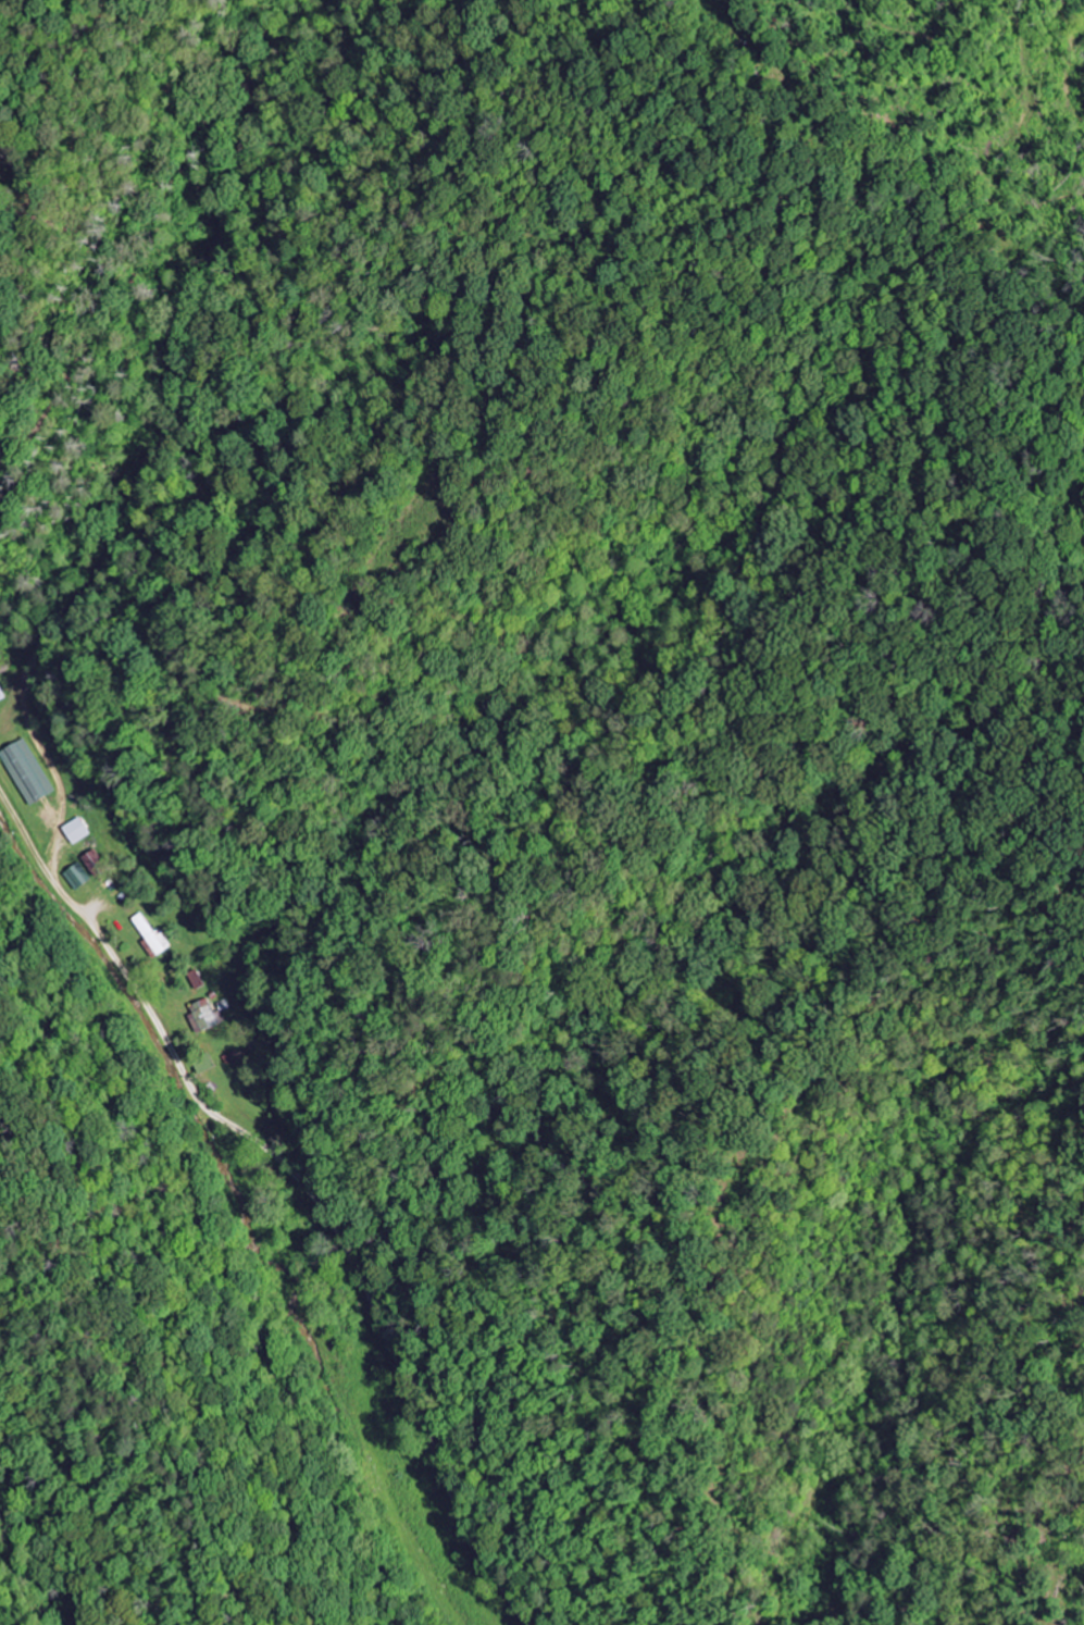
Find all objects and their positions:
building: (2, 694)
building: (28, 771)
building: (77, 830)
building: (77, 876)
building: (153, 936)
building: (203, 1017)
road: (299, 1180)

